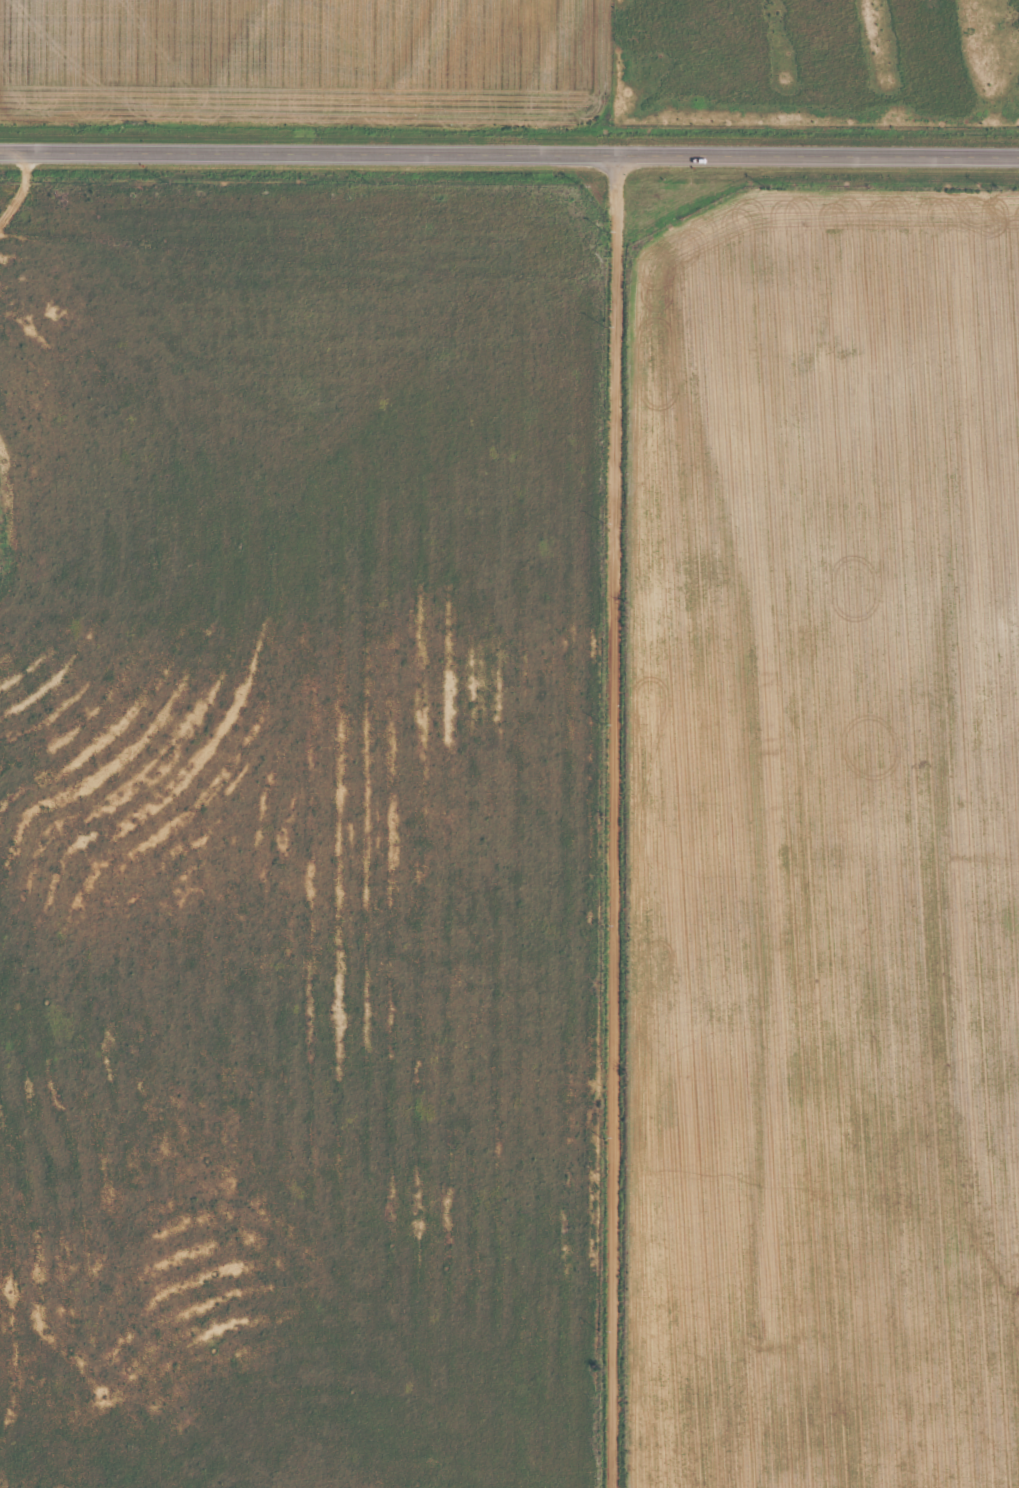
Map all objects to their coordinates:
road: (941, 42)
road: (509, 155)
road: (619, 822)

